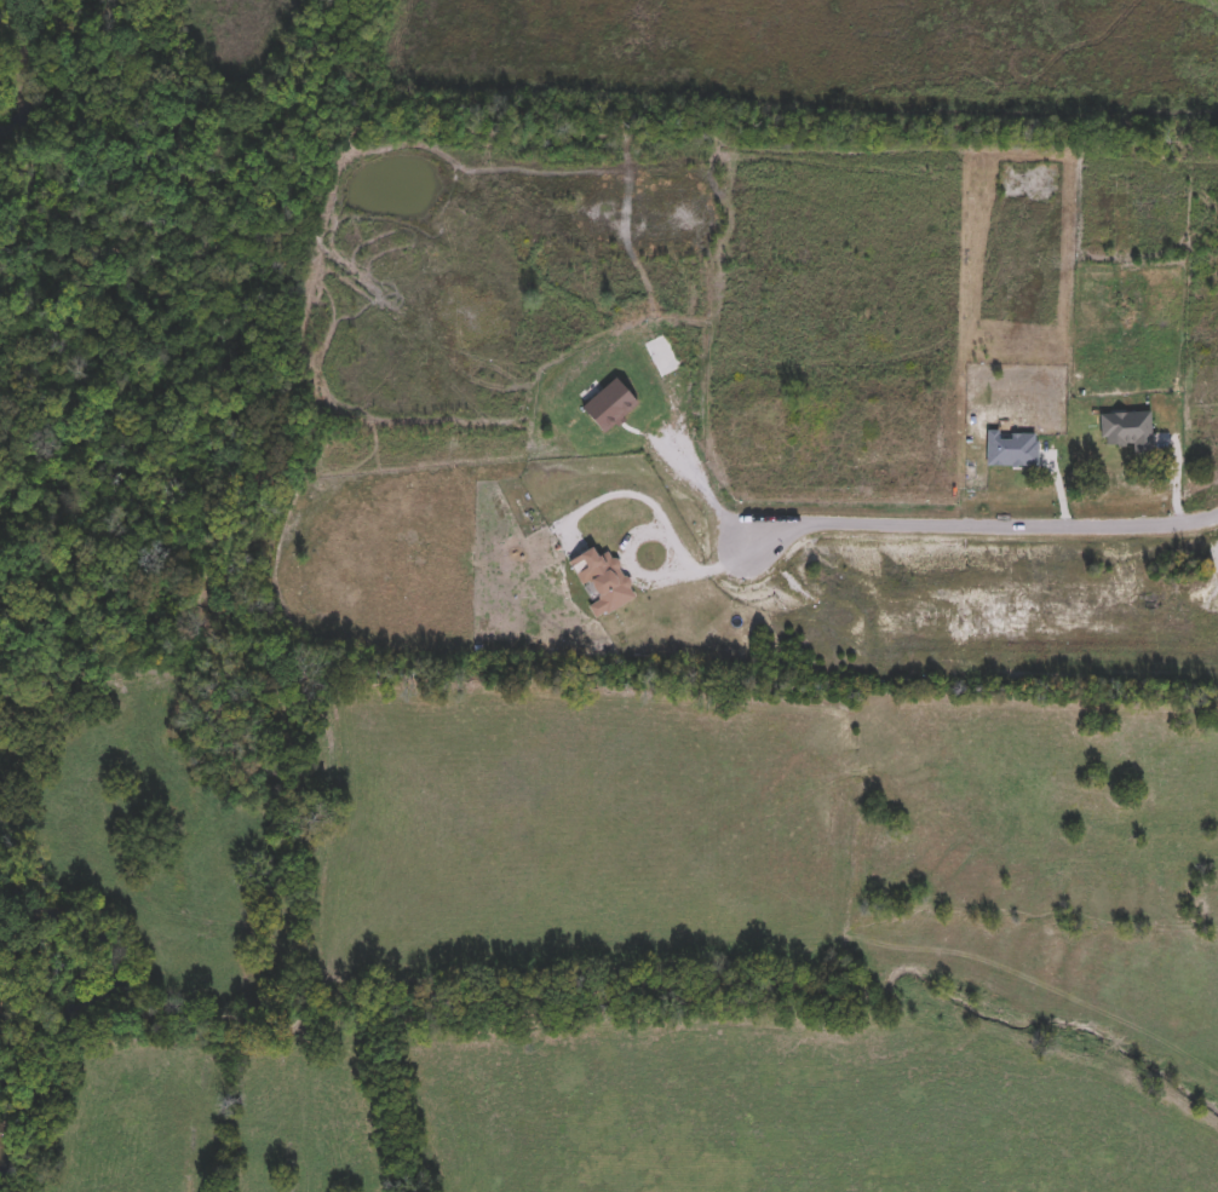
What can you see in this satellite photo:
road: (699, 480)
road: (982, 524)
road: (697, 566)

